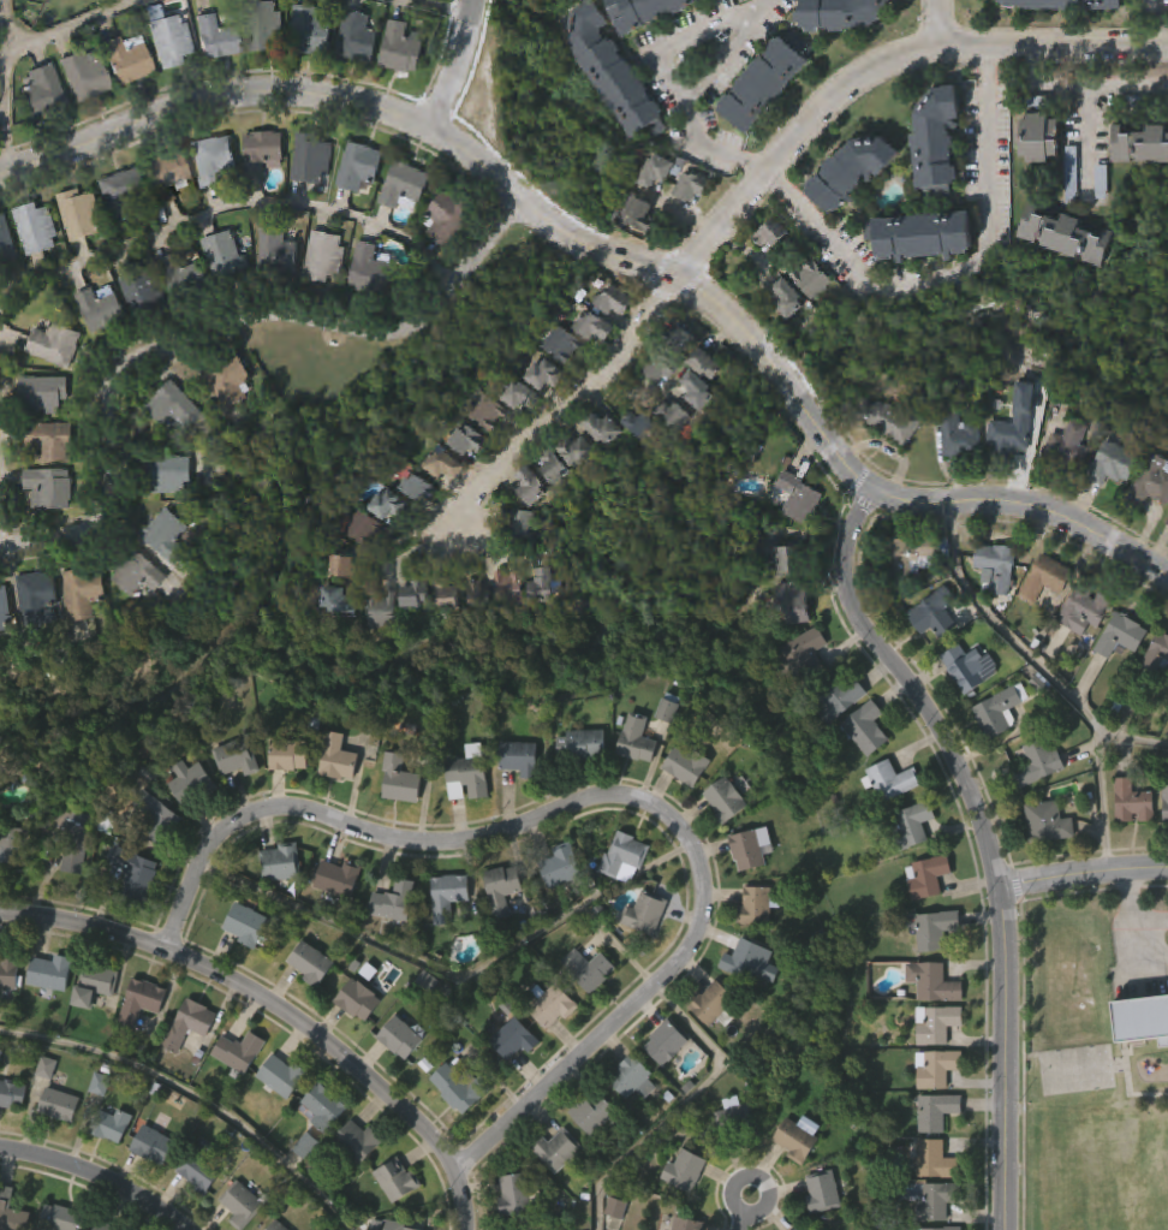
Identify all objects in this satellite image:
road: (763, 5)
road: (769, 5)
road: (447, 6)
building: (1067, 6)
road: (1154, 6)
building: (646, 13)
building: (839, 16)
road: (943, 23)
road: (67, 25)
building: (263, 28)
road: (1155, 30)
building: (309, 32)
building: (357, 37)
building: (213, 40)
road: (684, 41)
building: (168, 42)
building: (401, 49)
building: (125, 60)
road: (988, 66)
road: (880, 67)
road: (457, 69)
building: (610, 73)
building: (83, 77)
building: (767, 84)
road: (698, 85)
road: (6, 87)
road: (1035, 88)
road: (1126, 90)
building: (41, 94)
road: (214, 100)
road: (1084, 138)
building: (1041, 139)
building: (937, 147)
building: (1140, 148)
building: (262, 154)
building: (211, 161)
building: (311, 162)
road: (755, 166)
building: (358, 168)
building: (661, 172)
building: (852, 176)
building: (163, 178)
building: (403, 188)
building: (691, 189)
building: (119, 195)
road: (797, 203)
road: (231, 206)
building: (78, 215)
building: (646, 215)
building: (446, 220)
road: (548, 221)
building: (35, 230)
building: (771, 233)
building: (1063, 237)
building: (922, 238)
building: (6, 243)
building: (276, 252)
building: (225, 255)
building: (322, 259)
road: (976, 265)
building: (370, 269)
building: (183, 275)
building: (812, 279)
building: (142, 295)
building: (788, 298)
building: (614, 302)
building: (100, 309)
road: (734, 317)
road: (215, 326)
building: (600, 328)
building: (678, 339)
building: (56, 345)
building: (564, 345)
building: (707, 364)
building: (662, 367)
building: (544, 375)
building: (228, 380)
building: (698, 391)
building: (40, 397)
building: (519, 397)
road: (797, 402)
building: (173, 408)
building: (485, 411)
road: (559, 414)
building: (674, 416)
building: (890, 421)
building: (1015, 423)
building: (646, 426)
building: (961, 429)
building: (610, 430)
building: (49, 441)
building: (466, 441)
road: (0, 447)
building: (1068, 447)
building: (577, 451)
building: (441, 464)
building: (1113, 464)
building: (553, 467)
building: (167, 475)
building: (1150, 483)
building: (49, 488)
building: (416, 488)
building: (536, 488)
building: (798, 497)
road: (988, 498)
building: (389, 506)
building: (520, 525)
building: (364, 531)
building: (166, 536)
building: (782, 557)
road: (403, 559)
building: (911, 559)
building: (345, 568)
building: (997, 568)
building: (137, 575)
building: (1045, 581)
building: (548, 587)
building: (508, 588)
building: (85, 594)
building: (449, 595)
building: (483, 595)
building: (418, 596)
building: (40, 599)
building: (336, 601)
building: (794, 601)
building: (5, 610)
building: (1084, 610)
building: (381, 611)
building: (935, 613)
building: (1120, 635)
building: (1157, 653)
building: (803, 654)
building: (964, 666)
road: (1050, 678)
building: (838, 695)
building: (667, 707)
building: (999, 711)
building: (863, 727)
building: (636, 738)
road: (1132, 739)
building: (584, 743)
building: (286, 754)
building: (338, 755)
building: (519, 757)
building: (233, 760)
building: (1037, 761)
building: (685, 763)
building: (466, 773)
building: (399, 779)
building: (890, 779)
building: (192, 782)
building: (1164, 795)
road: (613, 797)
building: (723, 800)
building: (1132, 801)
building: (154, 818)
building: (1048, 821)
building: (912, 825)
building: (186, 832)
building: (68, 836)
road: (989, 836)
building: (463, 837)
building: (397, 838)
building: (13, 845)
building: (749, 848)
building: (720, 851)
building: (1162, 855)
building: (624, 856)
building: (1128, 856)
building: (279, 861)
building: (561, 866)
building: (154, 869)
building: (133, 873)
building: (1041, 873)
road: (1084, 873)
building: (907, 874)
building: (67, 875)
building: (926, 875)
building: (339, 877)
building: (500, 887)
building: (447, 896)
building: (10, 901)
building: (393, 901)
building: (755, 905)
road: (1132, 908)
building: (616, 910)
building: (644, 913)
building: (71, 915)
building: (276, 915)
building: (555, 917)
building: (130, 922)
building: (245, 922)
building: (932, 928)
building: (333, 929)
building: (496, 940)
building: (442, 946)
building: (388, 952)
building: (744, 959)
building: (310, 962)
building: (640, 965)
building: (8, 968)
road: (446, 968)
building: (589, 969)
building: (48, 971)
building: (243, 976)
building: (932, 981)
building: (90, 984)
building: (138, 999)
building: (356, 999)
building: (550, 1004)
building: (713, 1004)
road: (278, 1009)
building: (738, 1010)
building: (306, 1014)
building: (584, 1020)
building: (1143, 1020)
building: (936, 1023)
building: (185, 1024)
building: (6, 1026)
building: (43, 1026)
building: (403, 1035)
building: (88, 1036)
building: (512, 1039)
building: (665, 1042)
building: (353, 1051)
building: (136, 1052)
building: (237, 1052)
building: (707, 1052)
building: (548, 1057)
building: (935, 1068)
building: (1139, 1069)
building: (184, 1075)
building: (281, 1076)
building: (632, 1077)
building: (464, 1086)
building: (395, 1088)
building: (508, 1089)
building: (11, 1093)
road: (196, 1093)
building: (660, 1093)
building: (234, 1103)
road: (678, 1103)
building: (56, 1104)
building: (320, 1107)
building: (936, 1111)
building: (591, 1112)
building: (41, 1118)
building: (735, 1118)
building: (113, 1123)
building: (275, 1127)
building: (628, 1129)
building: (95, 1135)
building: (451, 1137)
building: (794, 1140)
building: (150, 1145)
building: (353, 1145)
building: (10, 1146)
building: (555, 1149)
building: (54, 1155)
building: (318, 1157)
building: (934, 1159)
building: (585, 1164)
building: (727, 1164)
building: (198, 1169)
building: (684, 1171)
road: (95, 1176)
building: (108, 1176)
building: (395, 1180)
building: (792, 1188)
building: (352, 1192)
building: (822, 1192)
building: (516, 1194)
building: (148, 1195)
building: (937, 1200)
building: (553, 1201)
building: (240, 1202)
road: (749, 1212)
building: (12, 1213)
building: (192, 1214)
building: (62, 1218)
building: (686, 1224)
building: (275, 1225)
building: (394, 1225)
building: (102, 1226)
building: (816, 1226)
building: (511, 1228)
building: (795, 1228)
building: (948, 1228)

